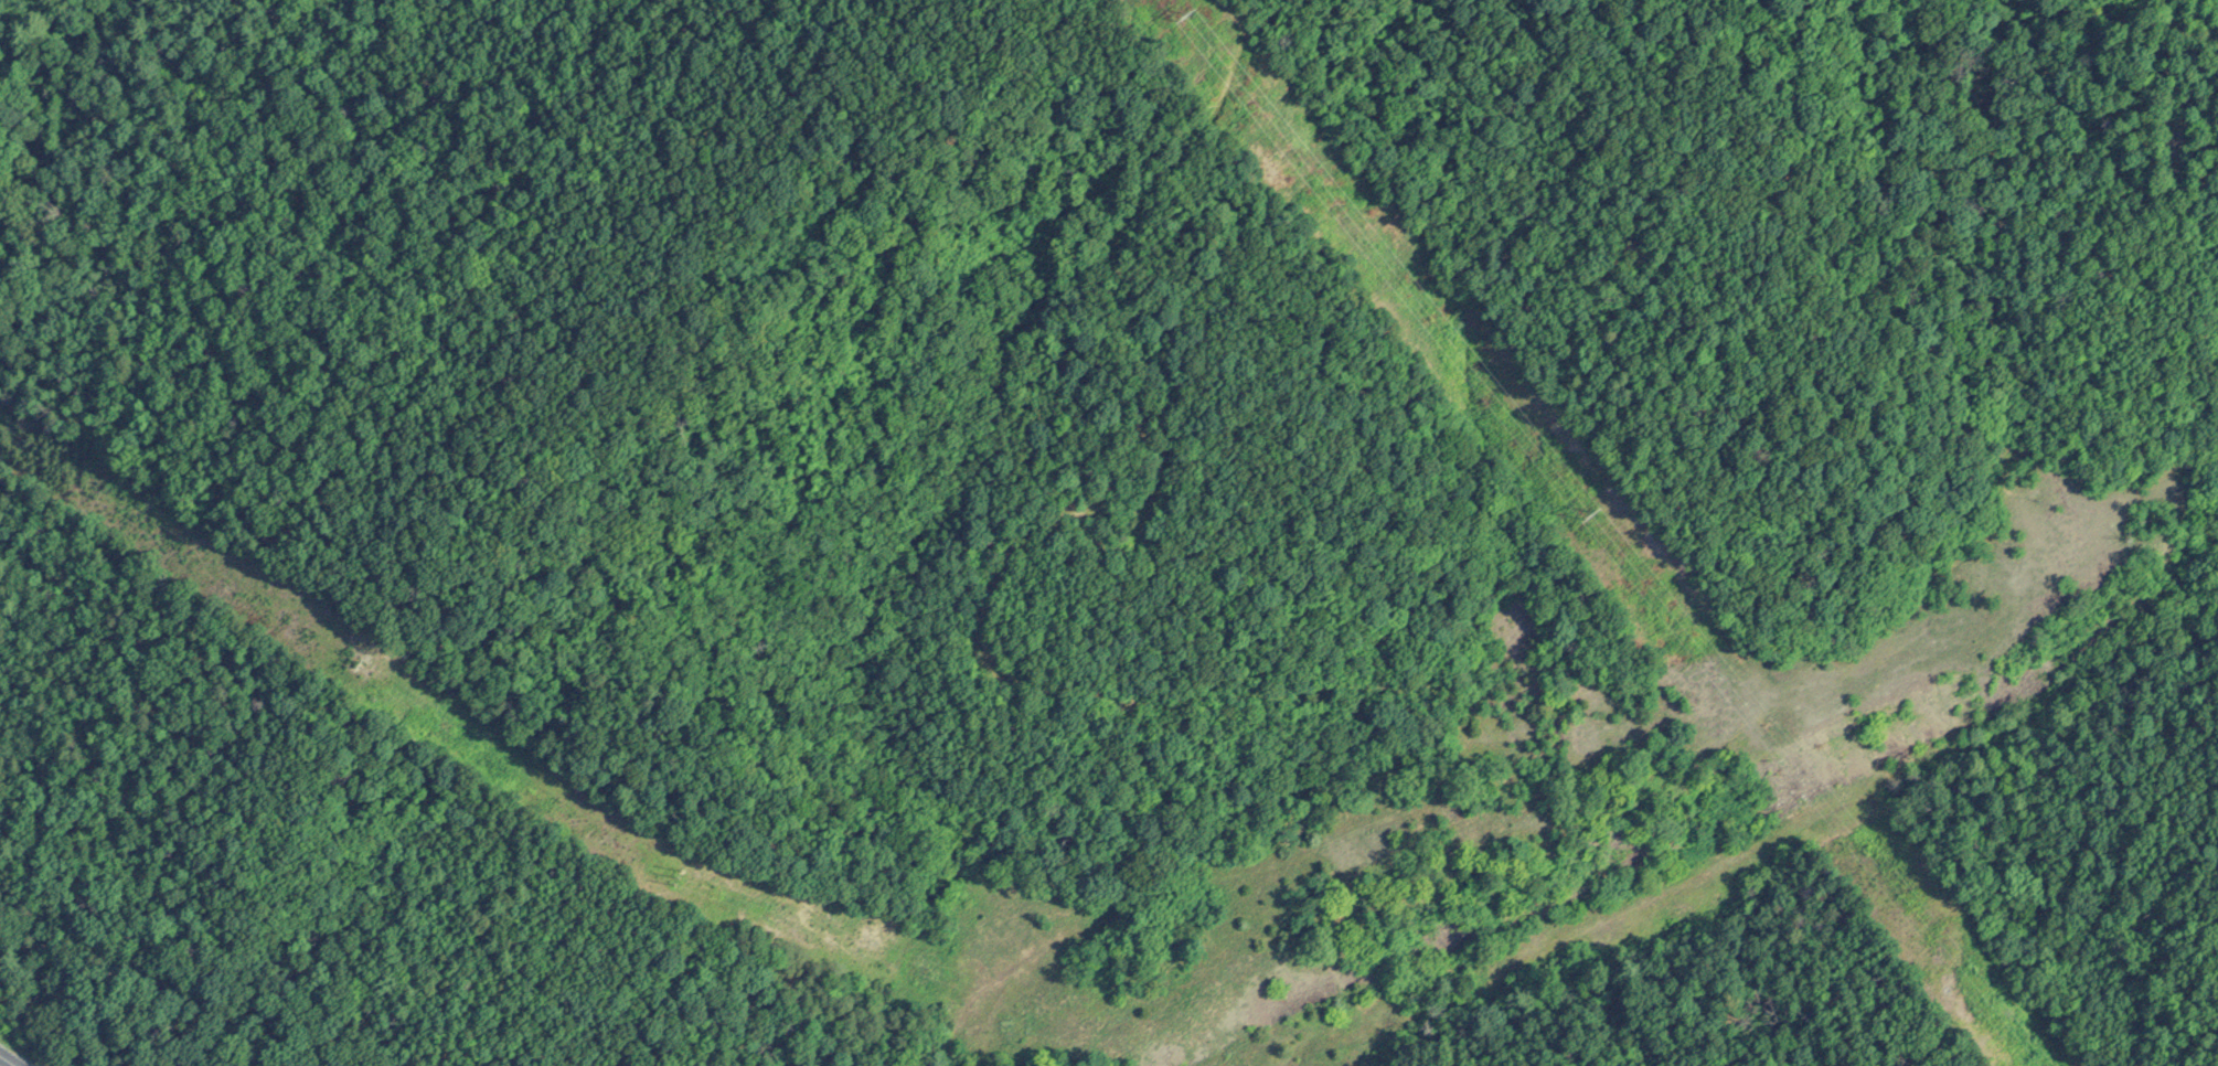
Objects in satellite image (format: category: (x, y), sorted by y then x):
power tower: (1185, 19)
power tower: (1591, 518)

